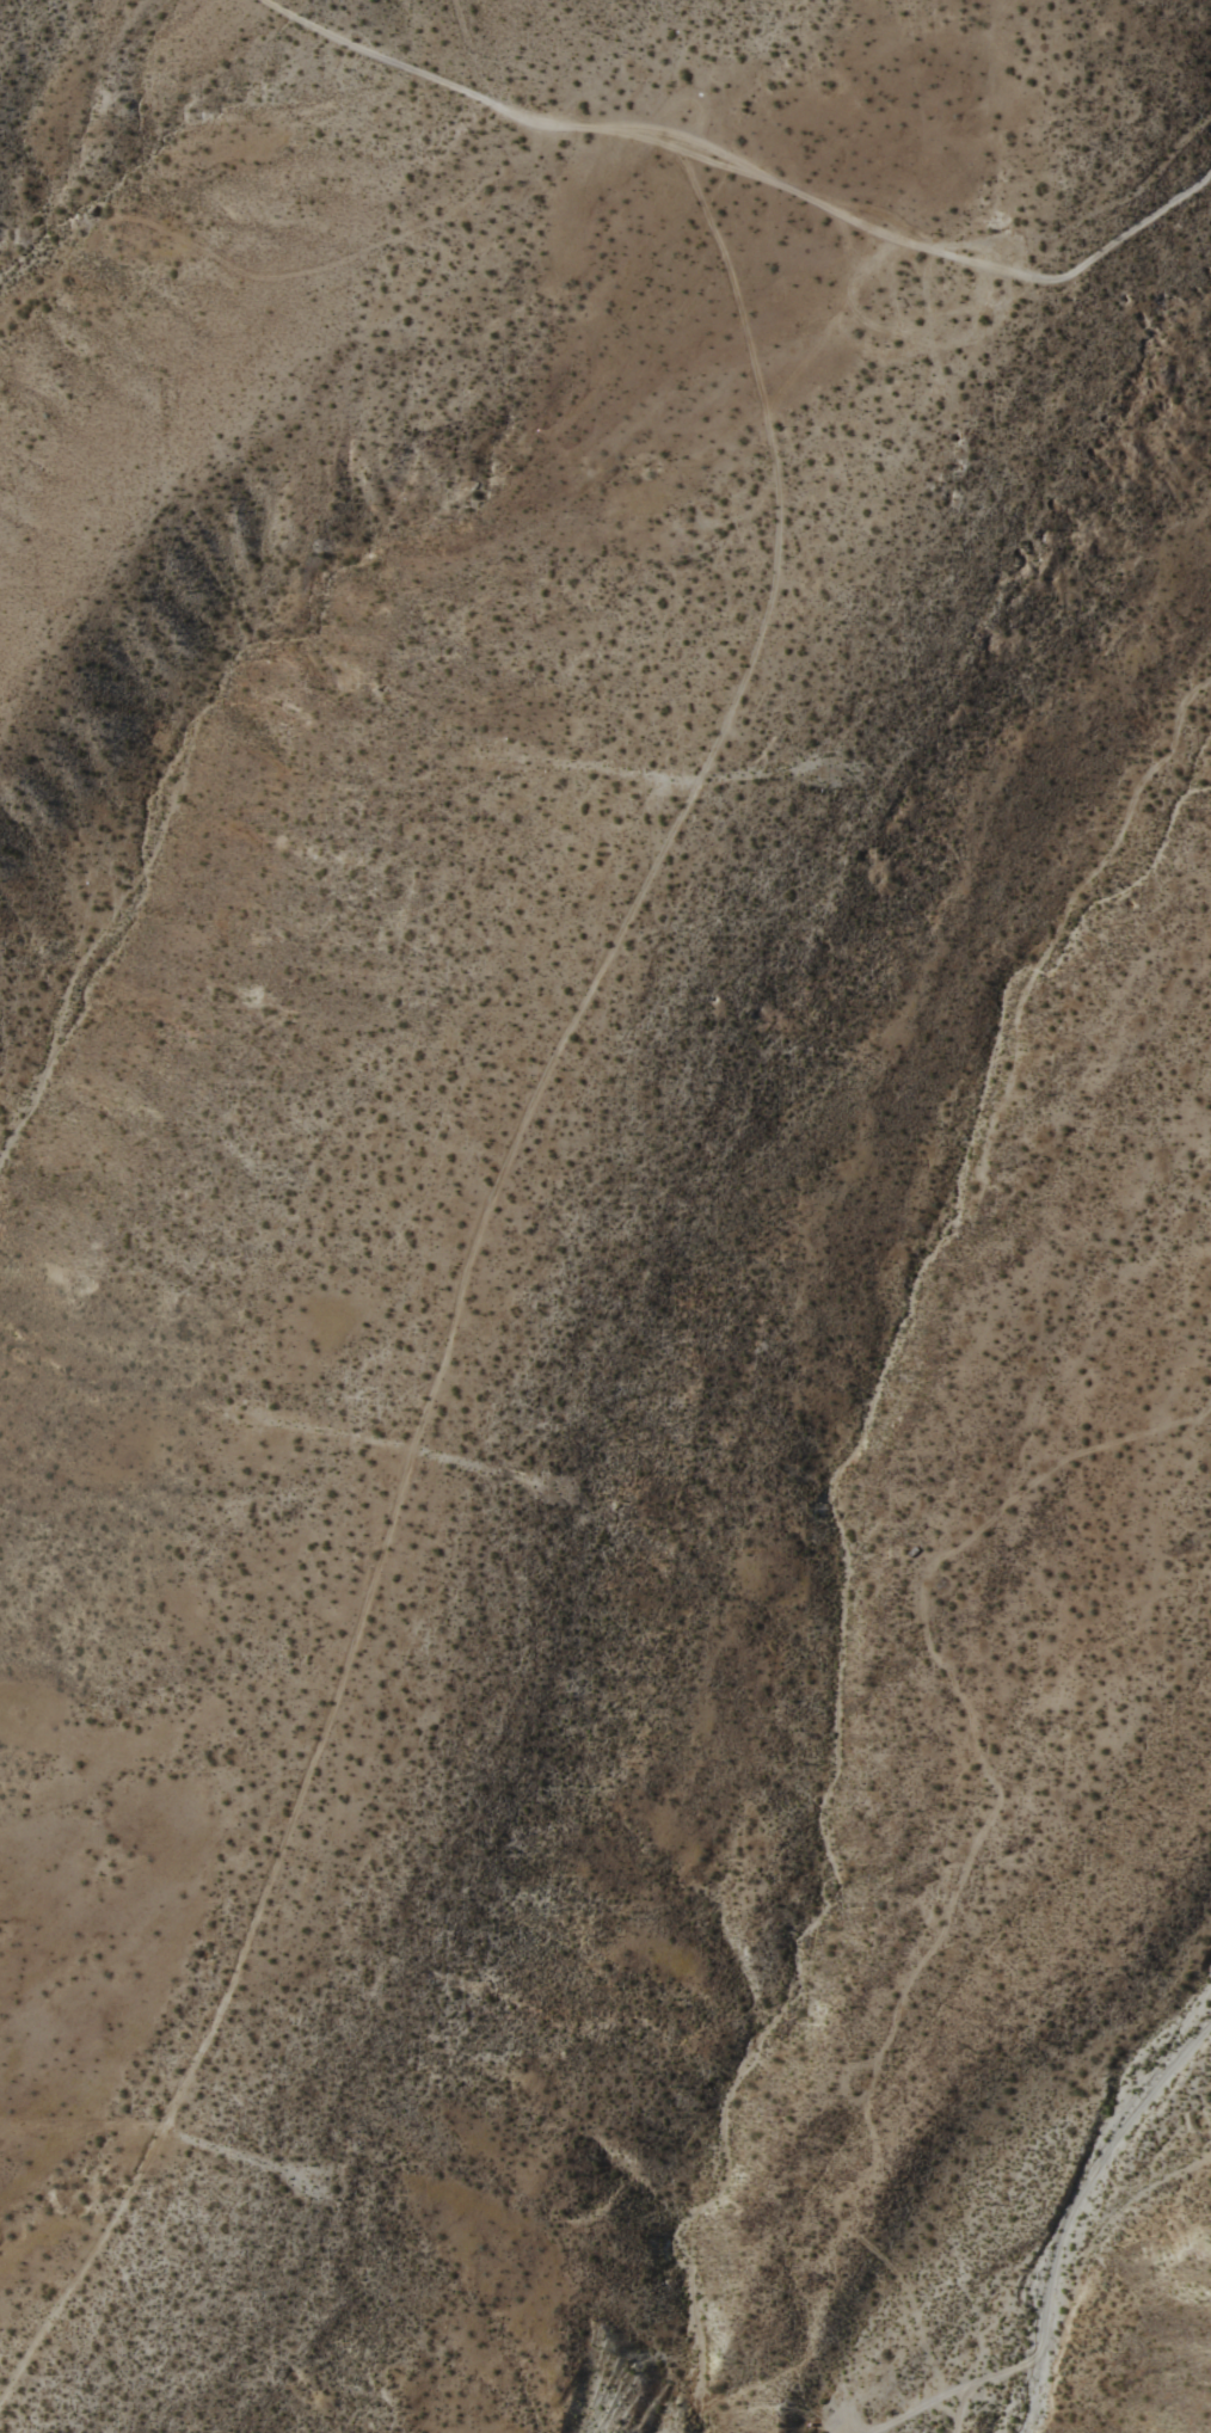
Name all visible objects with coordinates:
road: (750, 168)
mineshaft: (954, 437)
road: (1088, 2173)
road: (1072, 2281)
road: (884, 2425)
road: (855, 2432)

